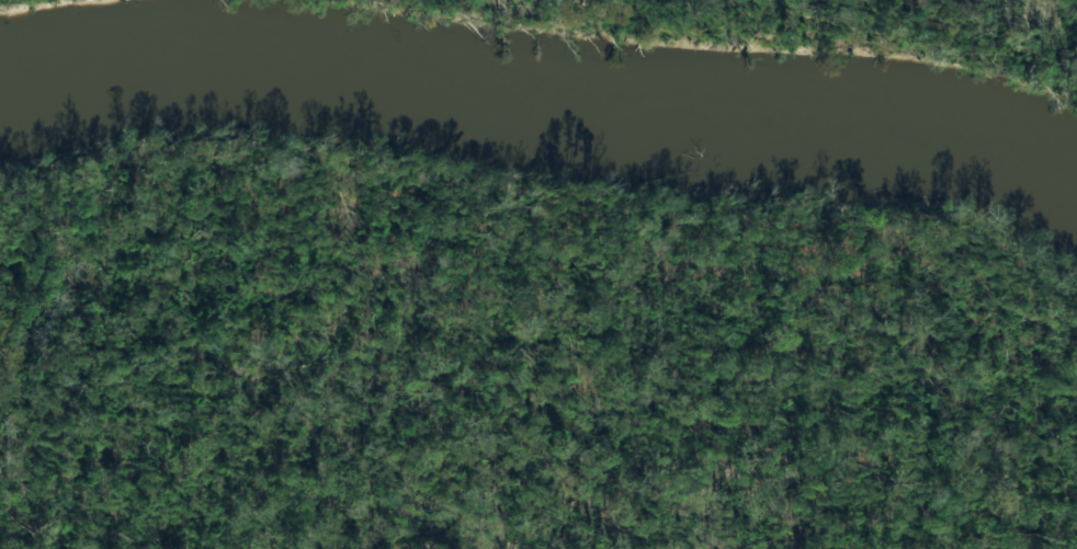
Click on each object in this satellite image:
river: (541, 106)

